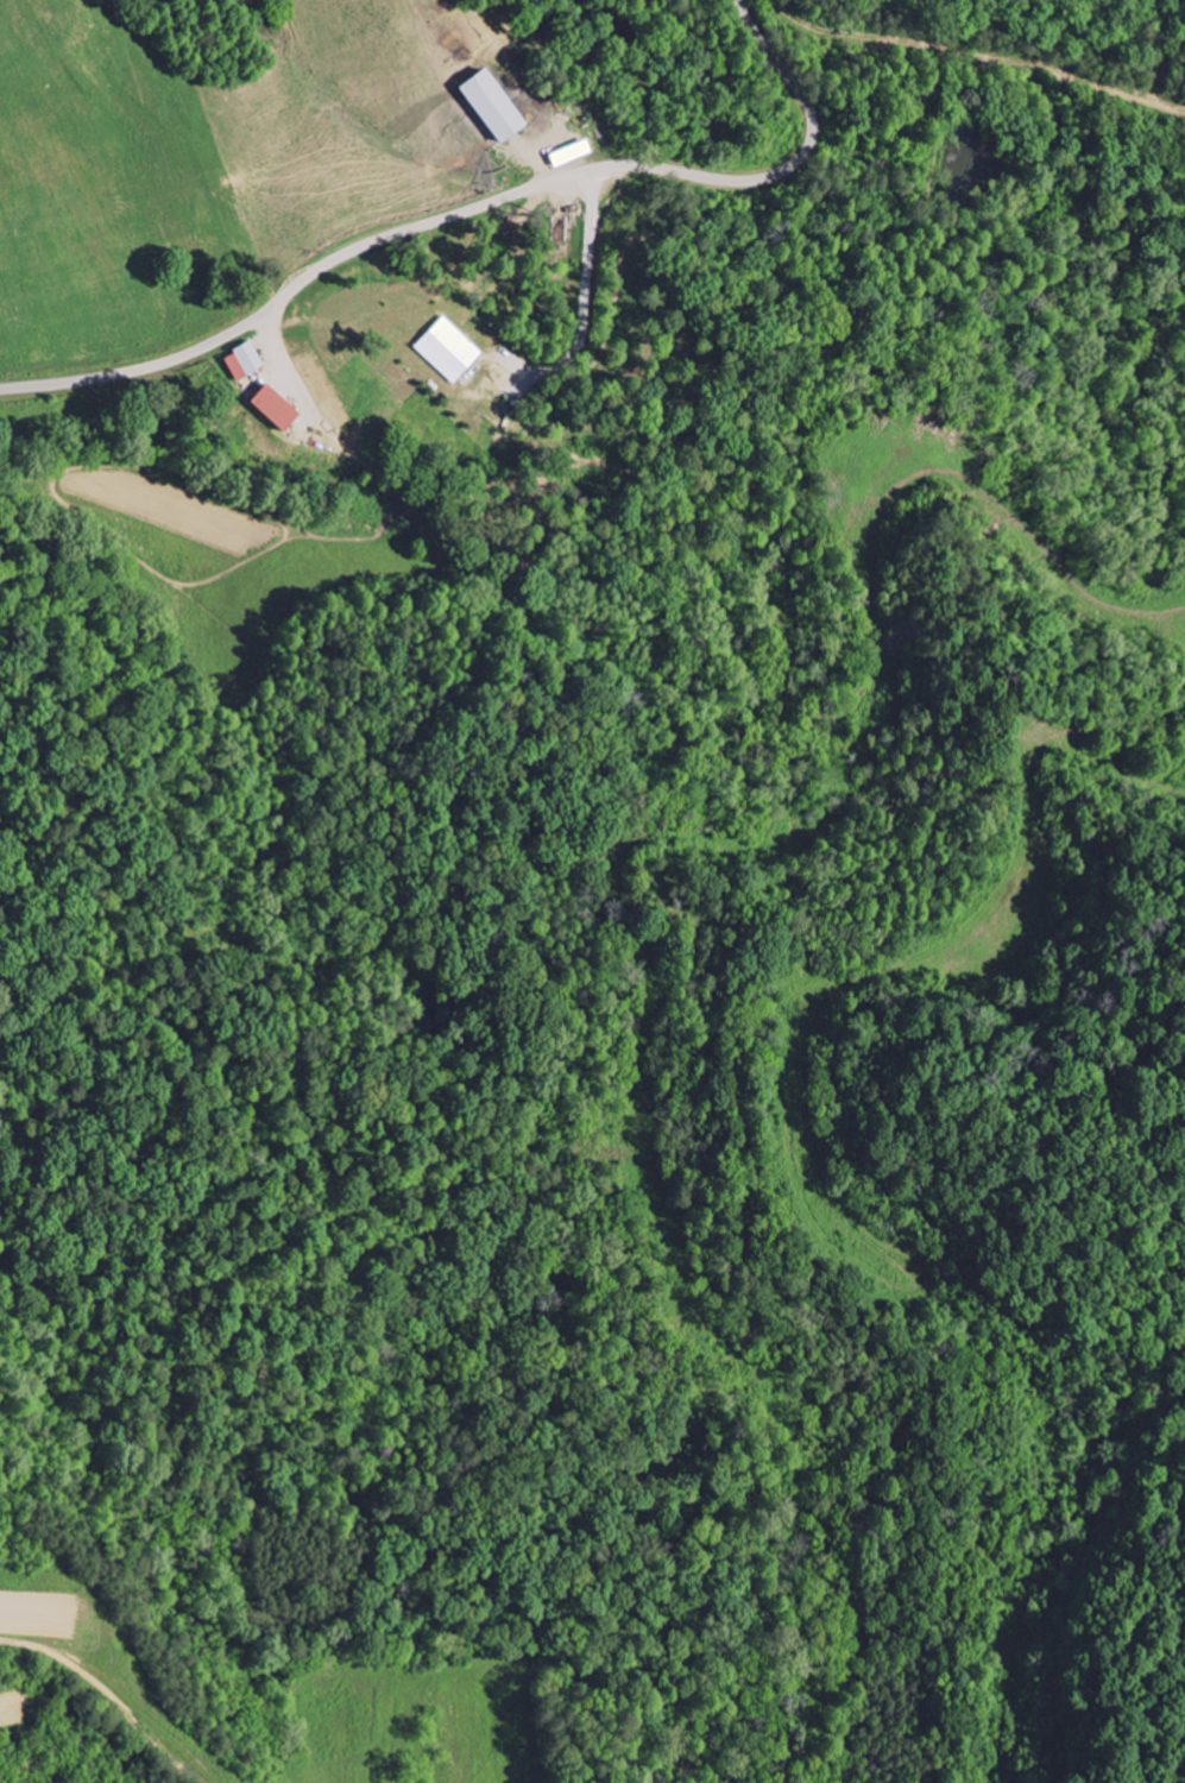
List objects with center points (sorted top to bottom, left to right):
building: (483, 105)
road: (477, 208)
building: (445, 349)
building: (238, 361)
building: (265, 408)
road: (158, 1656)

